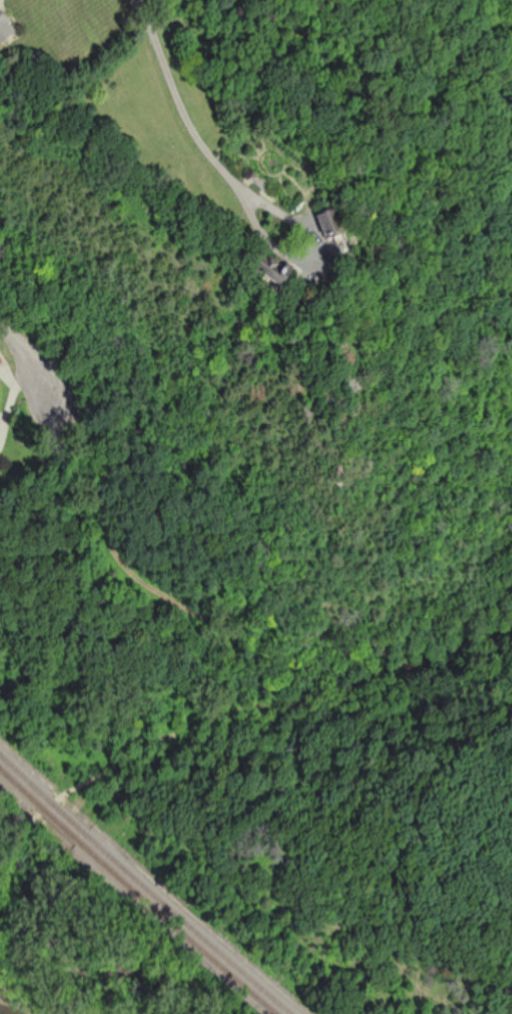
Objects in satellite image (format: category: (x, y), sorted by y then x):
building: (8, 20)
building: (338, 216)
building: (277, 260)
building: (309, 343)
road: (26, 354)
building: (0, 535)
railway: (24, 775)
railway: (21, 786)
railway: (70, 818)
railway: (62, 826)
railway: (192, 926)
railway: (178, 929)

